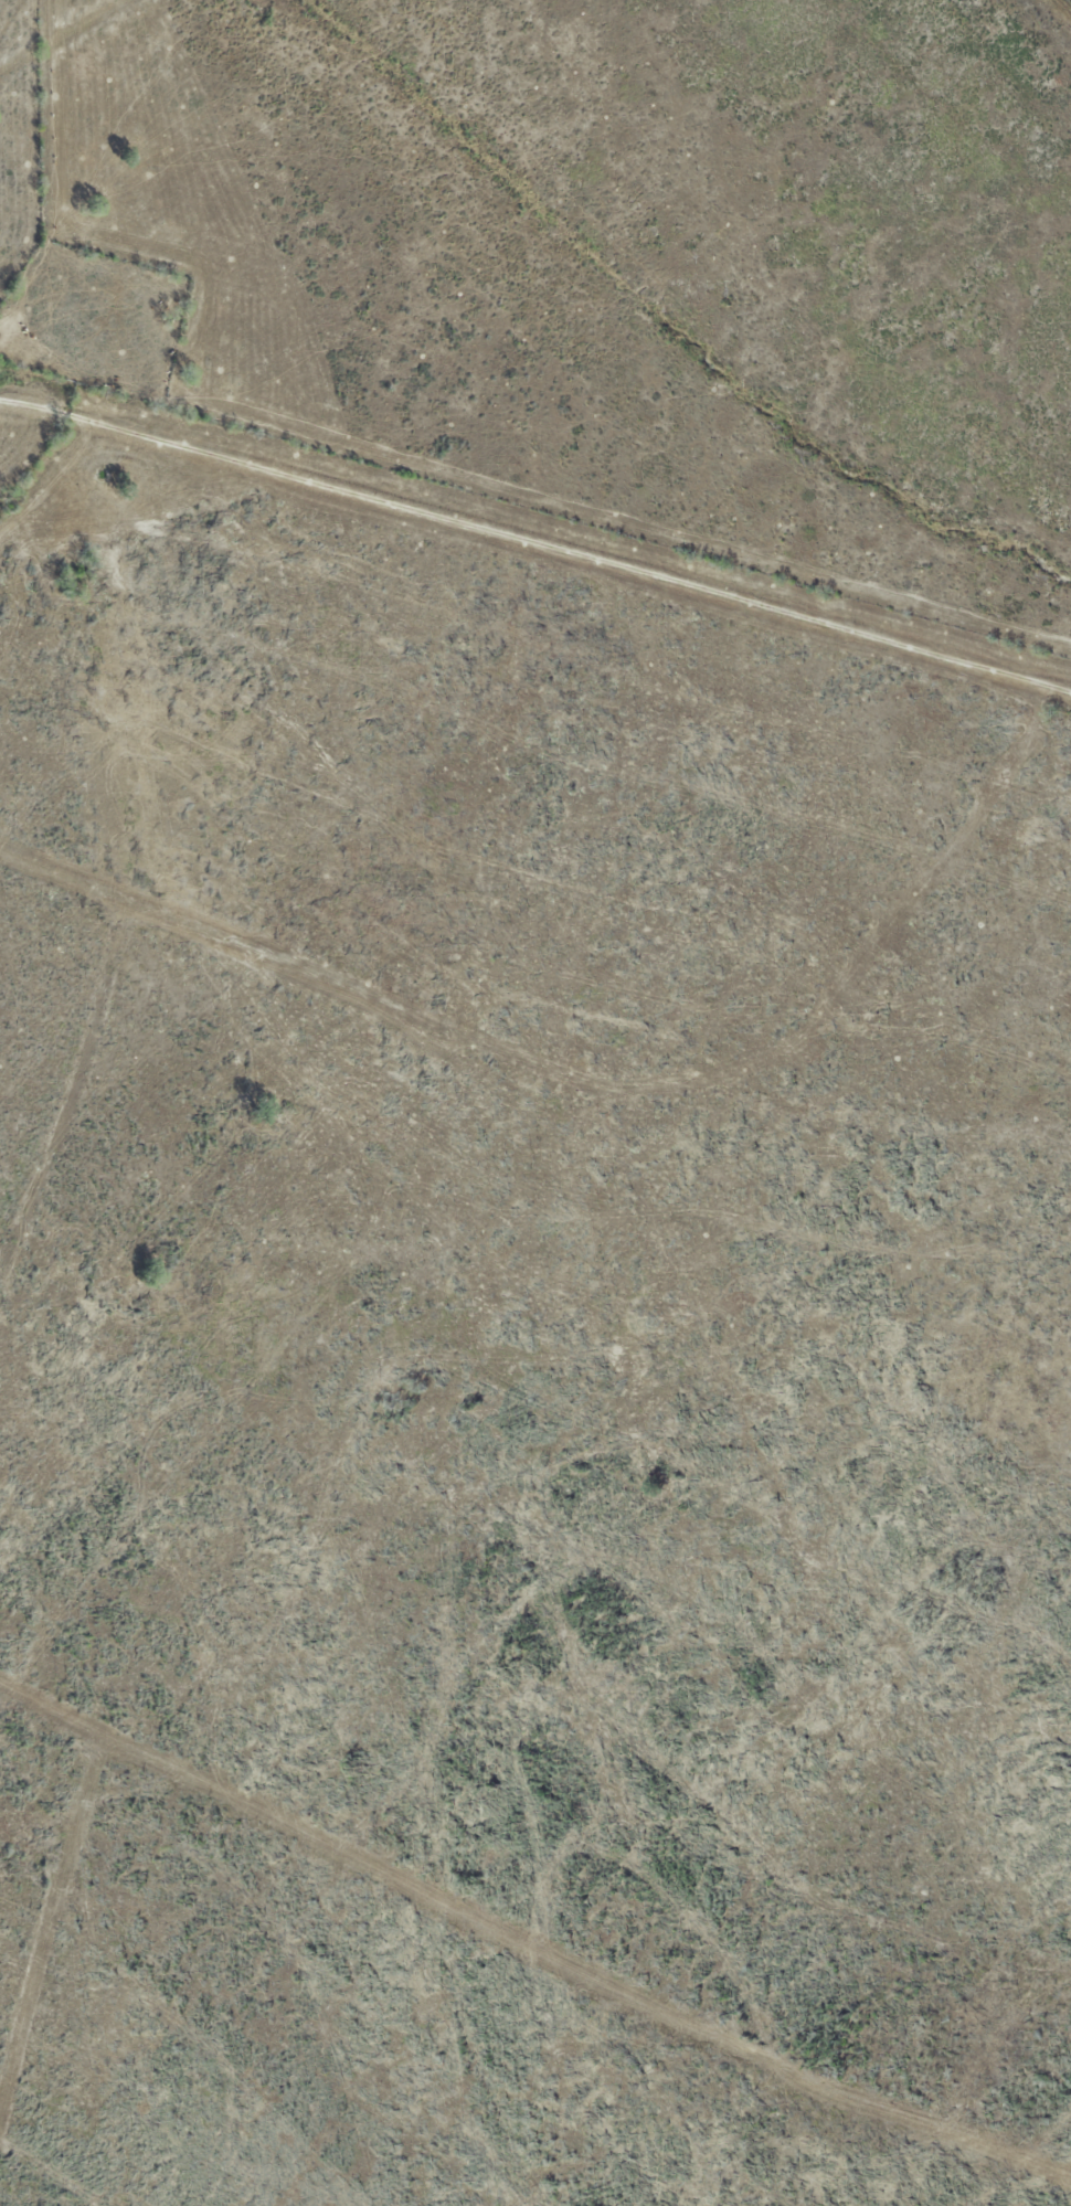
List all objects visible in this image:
road: (535, 521)

